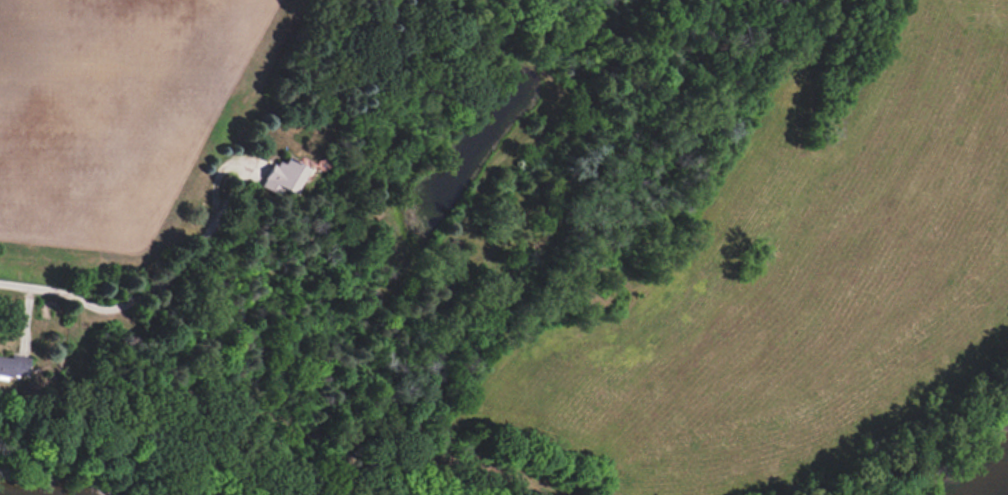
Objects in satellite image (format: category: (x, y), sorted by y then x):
building: (282, 176)
road: (152, 287)
building: (13, 366)
river: (1002, 488)

